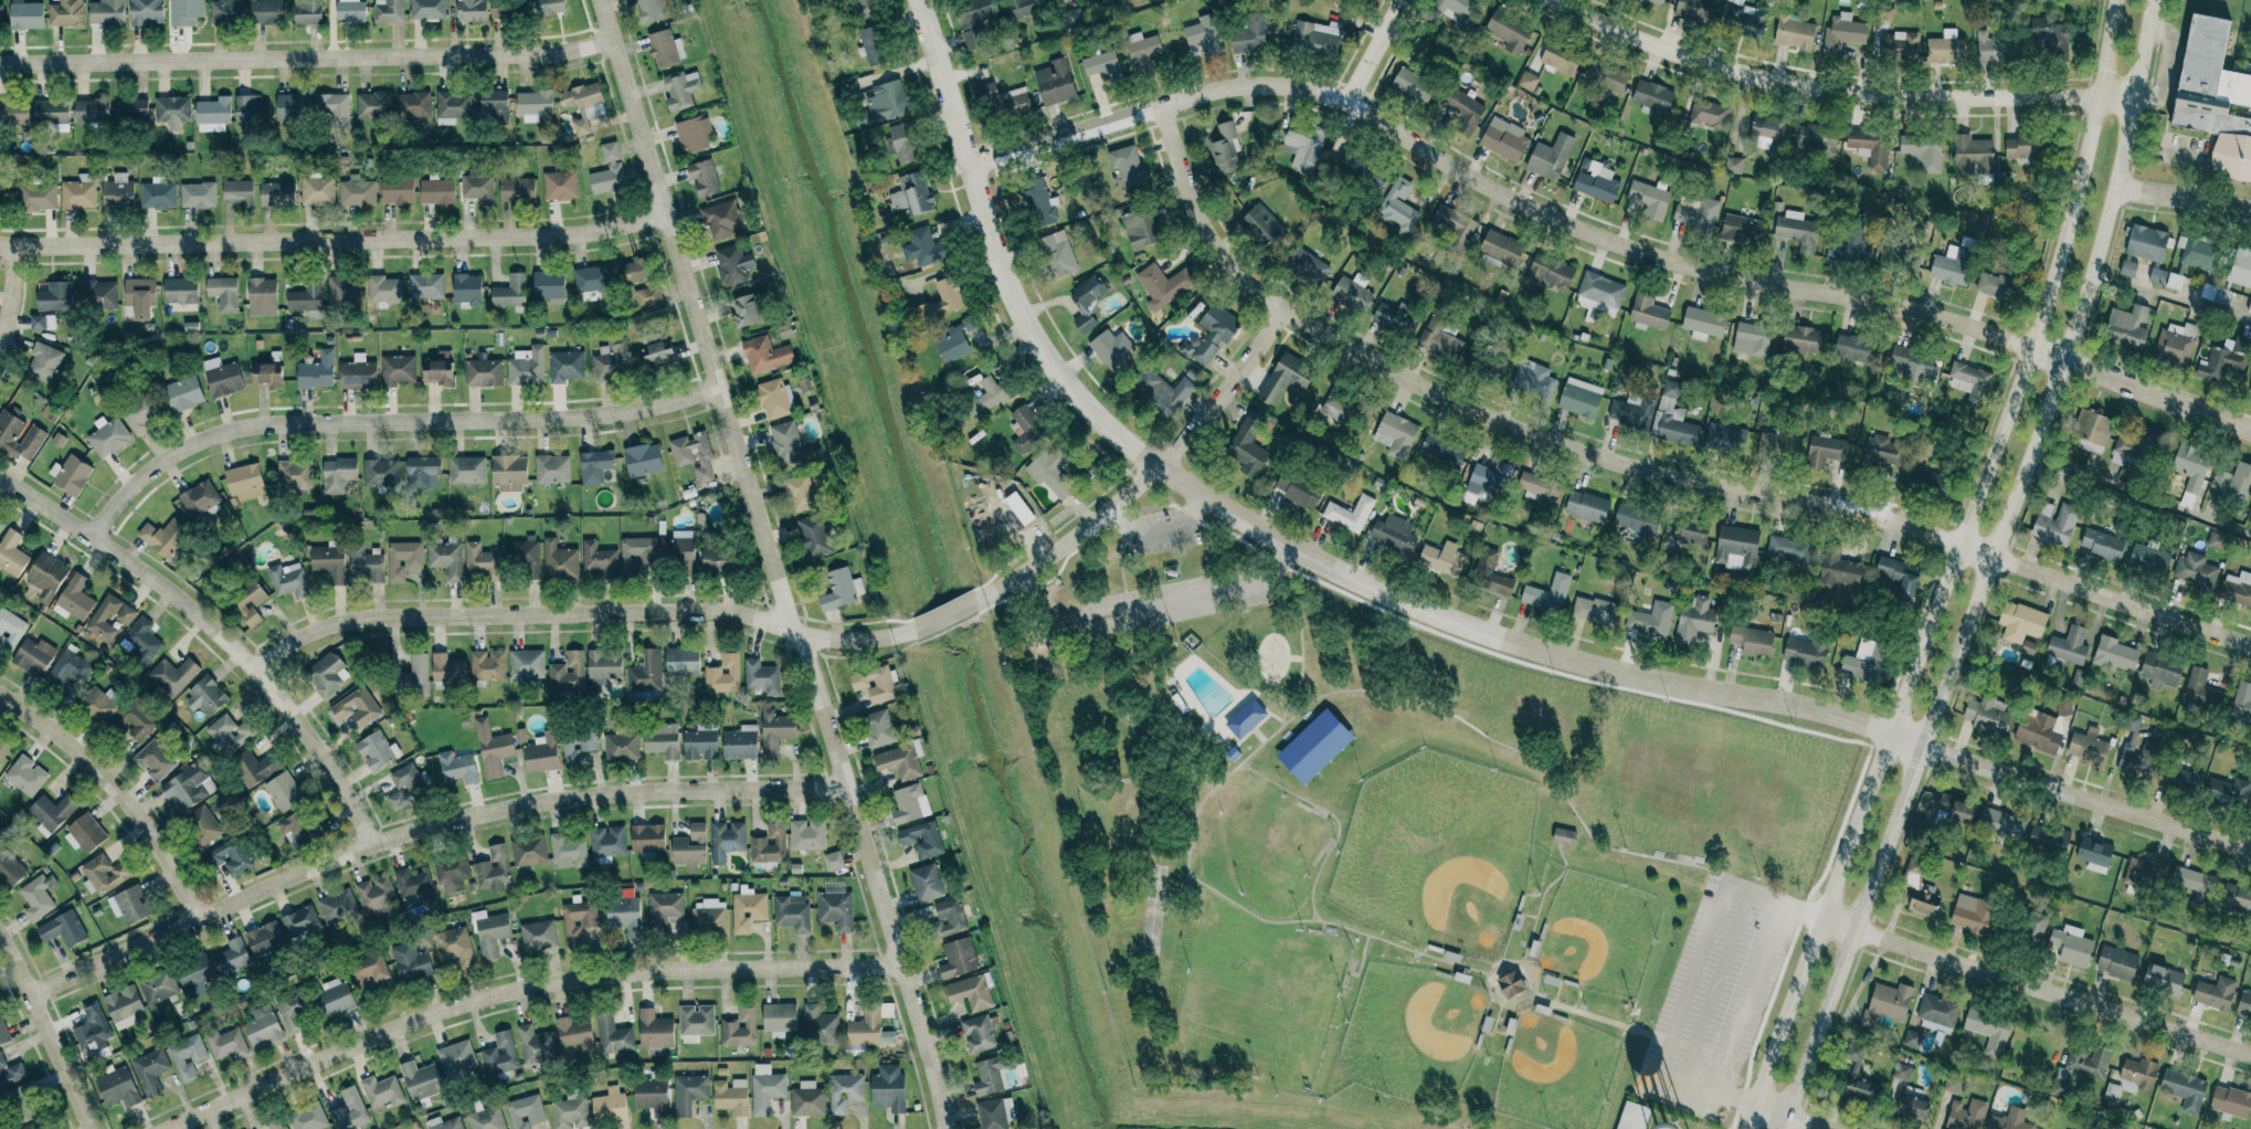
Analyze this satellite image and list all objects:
building: (1657, 1)
building: (549, 7)
building: (1023, 8)
building: (427, 9)
building: (506, 9)
building: (1459, 9)
building: (350, 10)
building: (471, 10)
building: (649, 10)
building: (1695, 10)
building: (225, 11)
building: (266, 11)
building: (307, 11)
building: (388, 11)
building: (107, 12)
building: (147, 12)
building: (186, 12)
building: (67, 13)
building: (27, 15)
building: (1, 17)
building: (1744, 19)
building: (976, 20)
building: (1509, 31)
building: (1249, 33)
building: (1794, 33)
building: (1842, 33)
building: (1205, 34)
building: (1317, 36)
building: (2048, 39)
building: (1899, 45)
building: (874, 46)
building: (665, 48)
building: (1995, 49)
building: (1945, 50)
building: (1142, 51)
road: (1374, 51)
road: (305, 57)
building: (1560, 60)
building: (1101, 64)
road: (2167, 67)
building: (1605, 77)
building: (1528, 81)
building: (1055, 82)
building: (1413, 85)
building: (680, 88)
road: (1835, 89)
building: (1652, 96)
building: (2213, 97)
building: (886, 101)
building: (1005, 101)
building: (392, 104)
building: (533, 105)
building: (584, 105)
building: (292, 106)
building: (453, 106)
building: (493, 106)
building: (335, 107)
building: (251, 108)
building: (133, 109)
building: (1463, 109)
building: (92, 110)
building: (172, 110)
building: (14, 113)
building: (51, 113)
building: (213, 114)
building: (1709, 114)
building: (1767, 128)
building: (694, 134)
building: (1504, 139)
building: (1815, 140)
building: (902, 143)
building: (1870, 147)
building: (2026, 147)
building: (1225, 148)
building: (1303, 148)
building: (1923, 151)
building: (1973, 156)
building: (1551, 157)
building: (1733, 165)
building: (1128, 168)
building: (609, 171)
building: (1363, 171)
building: (704, 178)
building: (1596, 181)
building: (0, 184)
building: (560, 184)
building: (478, 188)
building: (398, 190)
building: (436, 190)
building: (517, 190)
building: (118, 191)
building: (237, 191)
building: (317, 191)
building: (277, 193)
building: (358, 193)
building: (911, 193)
building: (78, 194)
building: (158, 194)
building: (198, 194)
building: (35, 197)
road: (2183, 198)
building: (1649, 199)
building: (1037, 202)
building: (1399, 207)
building: (1695, 212)
building: (722, 220)
building: (1261, 224)
building: (1455, 226)
building: (1140, 228)
building: (1742, 230)
building: (1797, 231)
road: (1599, 238)
road: (332, 240)
building: (2145, 243)
building: (1850, 244)
building: (926, 246)
building: (1501, 247)
building: (2198, 253)
building: (1058, 255)
building: (1895, 255)
road: (994, 257)
building: (732, 264)
building: (1952, 265)
building: (1307, 267)
building: (2240, 267)
building: (2128, 268)
building: (635, 271)
building: (1550, 272)
building: (592, 279)
building: (1163, 285)
building: (1995, 285)
building: (426, 286)
building: (549, 286)
road: (8, 288)
building: (467, 288)
building: (345, 289)
building: (384, 289)
building: (180, 291)
building: (510, 292)
building: (224, 293)
building: (1351, 293)
building: (99, 294)
building: (2216, 294)
building: (56, 296)
building: (140, 296)
building: (262, 296)
building: (648, 296)
building: (1599, 296)
building: (307, 298)
building: (943, 299)
road: (2169, 299)
building: (1087, 302)
building: (2249, 308)
building: (746, 310)
building: (1648, 313)
building: (1397, 318)
building: (41, 321)
building: (1703, 323)
building: (2127, 327)
building: (1213, 334)
building: (1441, 339)
building: (1752, 339)
building: (1804, 341)
building: (953, 344)
building: (2174, 345)
building: (1111, 346)
building: (1854, 348)
building: (658, 354)
building: (764, 355)
building: (612, 358)
building: (2221, 361)
building: (44, 362)
building: (1914, 365)
building: (527, 366)
building: (566, 366)
building: (1483, 366)
building: (438, 369)
building: (398, 370)
building: (317, 371)
building: (358, 372)
building: (484, 372)
building: (268, 374)
building: (223, 377)
building: (1286, 377)
building: (1533, 380)
building: (1969, 383)
building: (1671, 389)
building: (1161, 392)
building: (184, 393)
building: (2250, 393)
building: (987, 395)
building: (774, 398)
building: (1581, 398)
building: (1346, 409)
building: (1630, 411)
building: (141, 414)
road: (384, 422)
building: (1026, 429)
building: (1677, 431)
building: (2091, 431)
building: (18, 434)
building: (1396, 435)
building: (108, 436)
building: (1724, 439)
building: (786, 443)
building: (1249, 443)
building: (1777, 445)
building: (1825, 451)
building: (1441, 452)
building: (1881, 452)
building: (694, 454)
building: (643, 460)
building: (595, 466)
building: (2191, 466)
building: (552, 468)
building: (467, 469)
road: (1640, 471)
building: (423, 472)
building: (509, 472)
building: (1056, 472)
building: (72, 473)
building: (381, 473)
building: (294, 474)
building: (338, 475)
road: (1149, 475)
building: (1488, 481)
building: (245, 482)
building: (2233, 482)
building: (1928, 483)
building: (1298, 489)
building: (1541, 489)
building: (801, 493)
road: (2138, 496)
building: (200, 498)
building: (1587, 506)
building: (1350, 513)
building: (1636, 519)
building: (2054, 523)
building: (1, 525)
road: (1153, 526)
building: (1690, 531)
building: (1394, 535)
building: (815, 536)
building: (163, 537)
building: (2216, 540)
building: (2103, 545)
building: (1790, 548)
building: (677, 550)
building: (12, 553)
road: (1204, 553)
building: (561, 556)
building: (619, 557)
building: (446, 558)
building: (403, 559)
building: (2148, 559)
building: (480, 561)
building: (329, 562)
building: (364, 564)
road: (770, 564)
building: (1467, 566)
road: (1946, 569)
road: (1118, 570)
road: (1985, 570)
building: (2195, 570)
building: (1838, 571)
building: (46, 576)
building: (1899, 578)
building: (289, 580)
building: (842, 589)
building: (2237, 589)
building: (1547, 593)
building: (75, 598)
building: (249, 603)
road: (1153, 604)
building: (1595, 610)
road: (578, 613)
building: (1701, 615)
building: (124, 616)
road: (944, 616)
building: (1651, 620)
building: (2021, 622)
building: (10, 630)
road: (213, 632)
building: (1752, 640)
building: (140, 641)
building: (2069, 646)
building: (2028, 647)
road: (1299, 648)
building: (1805, 652)
building: (2115, 655)
building: (34, 656)
building: (683, 661)
building: (1866, 661)
building: (527, 664)
building: (488, 665)
building: (603, 667)
building: (68, 668)
building: (447, 668)
building: (2160, 671)
building: (568, 673)
building: (646, 673)
building: (327, 674)
building: (173, 675)
building: (723, 675)
building: (414, 676)
building: (761, 677)
building: (875, 684)
road: (1691, 687)
building: (2202, 692)
building: (207, 696)
building: (99, 704)
building: (2241, 705)
building: (2063, 706)
building: (357, 707)
building: (1988, 716)
building: (1246, 718)
building: (138, 720)
road: (1286, 720)
road: (1125, 722)
building: (879, 728)
building: (775, 731)
building: (2038, 731)
building: (229, 734)
building: (662, 739)
building: (701, 742)
building: (740, 742)
building: (577, 746)
building: (1314, 746)
building: (622, 747)
building: (2088, 747)
building: (493, 748)
building: (3, 749)
building: (377, 750)
building: (2137, 751)
building: (542, 753)
building: (155, 760)
building: (901, 760)
building: (254, 768)
building: (458, 768)
building: (25, 775)
building: (2179, 779)
building: (408, 784)
building: (188, 788)
road: (113, 791)
building: (284, 791)
building: (2228, 792)
building: (909, 803)
building: (1958, 810)
building: (52, 812)
building: (2250, 812)
road: (1332, 819)
building: (2001, 824)
building: (202, 825)
building: (298, 827)
road: (420, 829)
building: (2, 833)
building: (84, 834)
building: (807, 834)
building: (1564, 836)
building: (647, 837)
building: (922, 838)
building: (727, 840)
building: (2048, 840)
building: (607, 841)
building: (769, 845)
park: (1258, 846)
building: (690, 847)
building: (528, 851)
building: (569, 851)
park: (1399, 851)
park: (1438, 853)
building: (2094, 854)
building: (229, 857)
building: (833, 861)
building: (10, 868)
building: (451, 868)
building: (494, 869)
building: (1913, 872)
building: (2143, 873)
building: (104, 874)
building: (2191, 880)
building: (411, 883)
building: (926, 883)
building: (376, 895)
road: (1173, 895)
building: (39, 896)
building: (2236, 898)
road: (1540, 899)
building: (1924, 903)
building: (129, 905)
building: (337, 906)
building: (664, 908)
building: (748, 909)
building: (836, 909)
building: (792, 912)
road: (1798, 912)
building: (1973, 914)
building: (624, 915)
building: (708, 917)
building: (948, 918)
building: (578, 919)
building: (300, 920)
building: (63, 929)
building: (2035, 930)
building: (490, 932)
building: (539, 935)
park: (1597, 935)
building: (265, 938)
building: (454, 946)
building: (2071, 946)
building: (232, 957)
building: (958, 958)
road: (1359, 961)
building: (411, 962)
building: (2117, 962)
road: (1489, 972)
building: (368, 973)
building: (194, 974)
building: (2164, 980)
road: (2035, 982)
building: (1511, 984)
building: (158, 986)
road: (522, 988)
building: (971, 992)
building: (2215, 993)
building: (336, 998)
park: (1260, 999)
building: (124, 1003)
building: (1888, 1003)
building: (2244, 1003)
building: (293, 1011)
building: (1938, 1013)
road: (1598, 1017)
building: (779, 1019)
building: (696, 1020)
road: (1492, 1024)
building: (818, 1025)
building: (868, 1025)
building: (263, 1027)
building: (739, 1027)
building: (655, 1030)
building: (1989, 1030)
building: (92, 1031)
building: (3, 1032)
park: (1409, 1032)
building: (574, 1033)
road: (44, 1034)
building: (613, 1034)
building: (979, 1034)
building: (1912, 1038)
building: (226, 1044)
building: (535, 1045)
building: (499, 1054)
building: (188, 1056)
building: (456, 1057)
building: (2089, 1063)
building: (1853, 1069)
building: (150, 1070)
building: (1902, 1070)
building: (10, 1072)
park: (1554, 1072)
building: (2137, 1074)
building: (989, 1076)
building: (421, 1080)
building: (1952, 1085)
road: (1650, 1087)
building: (118, 1088)
building: (765, 1088)
building: (888, 1088)
building: (2060, 1088)
building: (2185, 1089)
building: (845, 1090)
building: (382, 1093)
building: (688, 1093)
building: (652, 1096)
building: (731, 1096)
road: (1732, 1097)
building: (807, 1099)
building: (2230, 1101)
building: (23, 1102)
building: (610, 1106)
building: (349, 1110)
building: (570, 1110)
building: (525, 1111)
building: (995, 1114)
building: (1966, 1114)
building: (1634, 1116)
road: (1789, 1117)
building: (308, 1118)
building: (487, 1118)
building: (2009, 1120)
building: (277, 1123)
building: (444, 1123)
building: (32, 1127)

